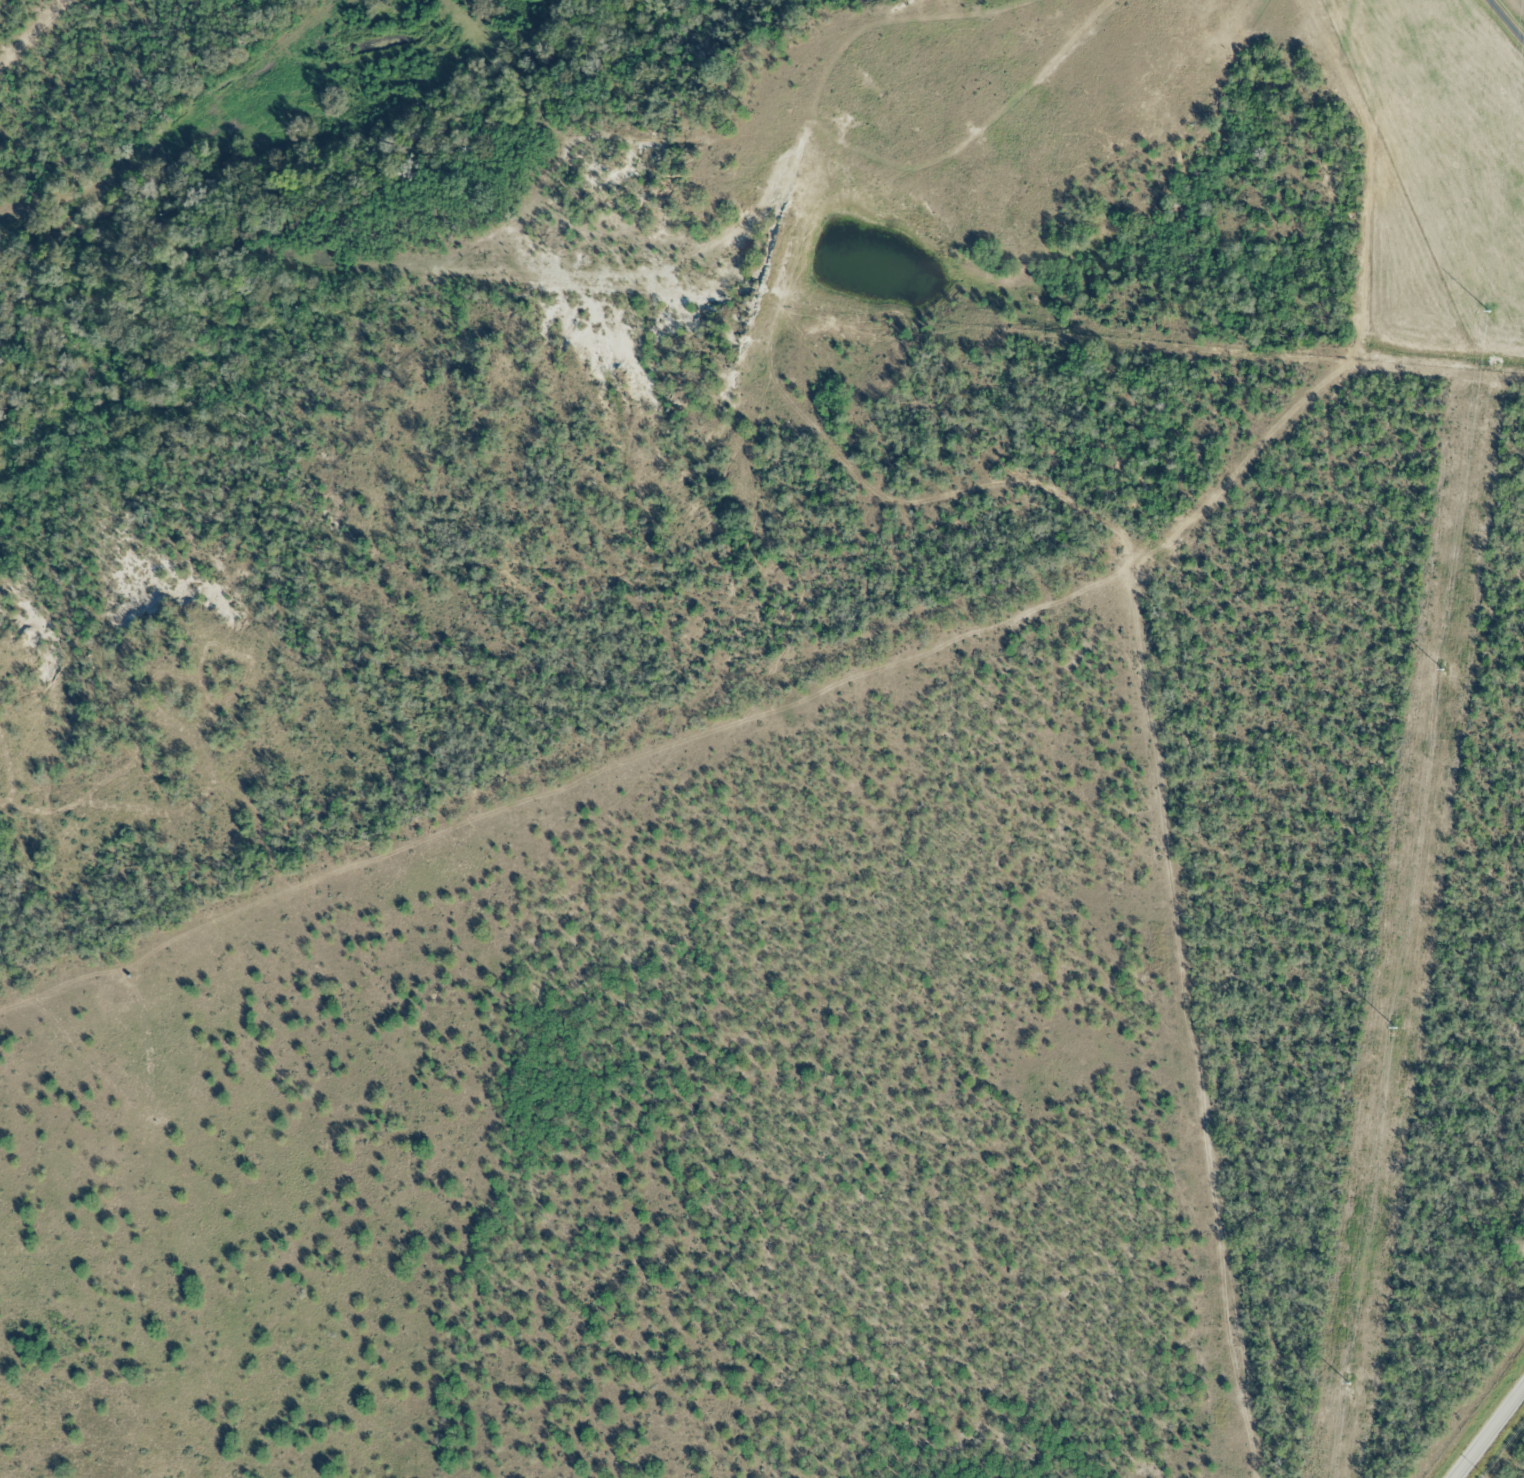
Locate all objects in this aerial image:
road: (1506, 21)
power tower: (1487, 305)
power tower: (1440, 663)
power tower: (1394, 1018)
power tower: (1347, 1378)
road: (1489, 1432)

